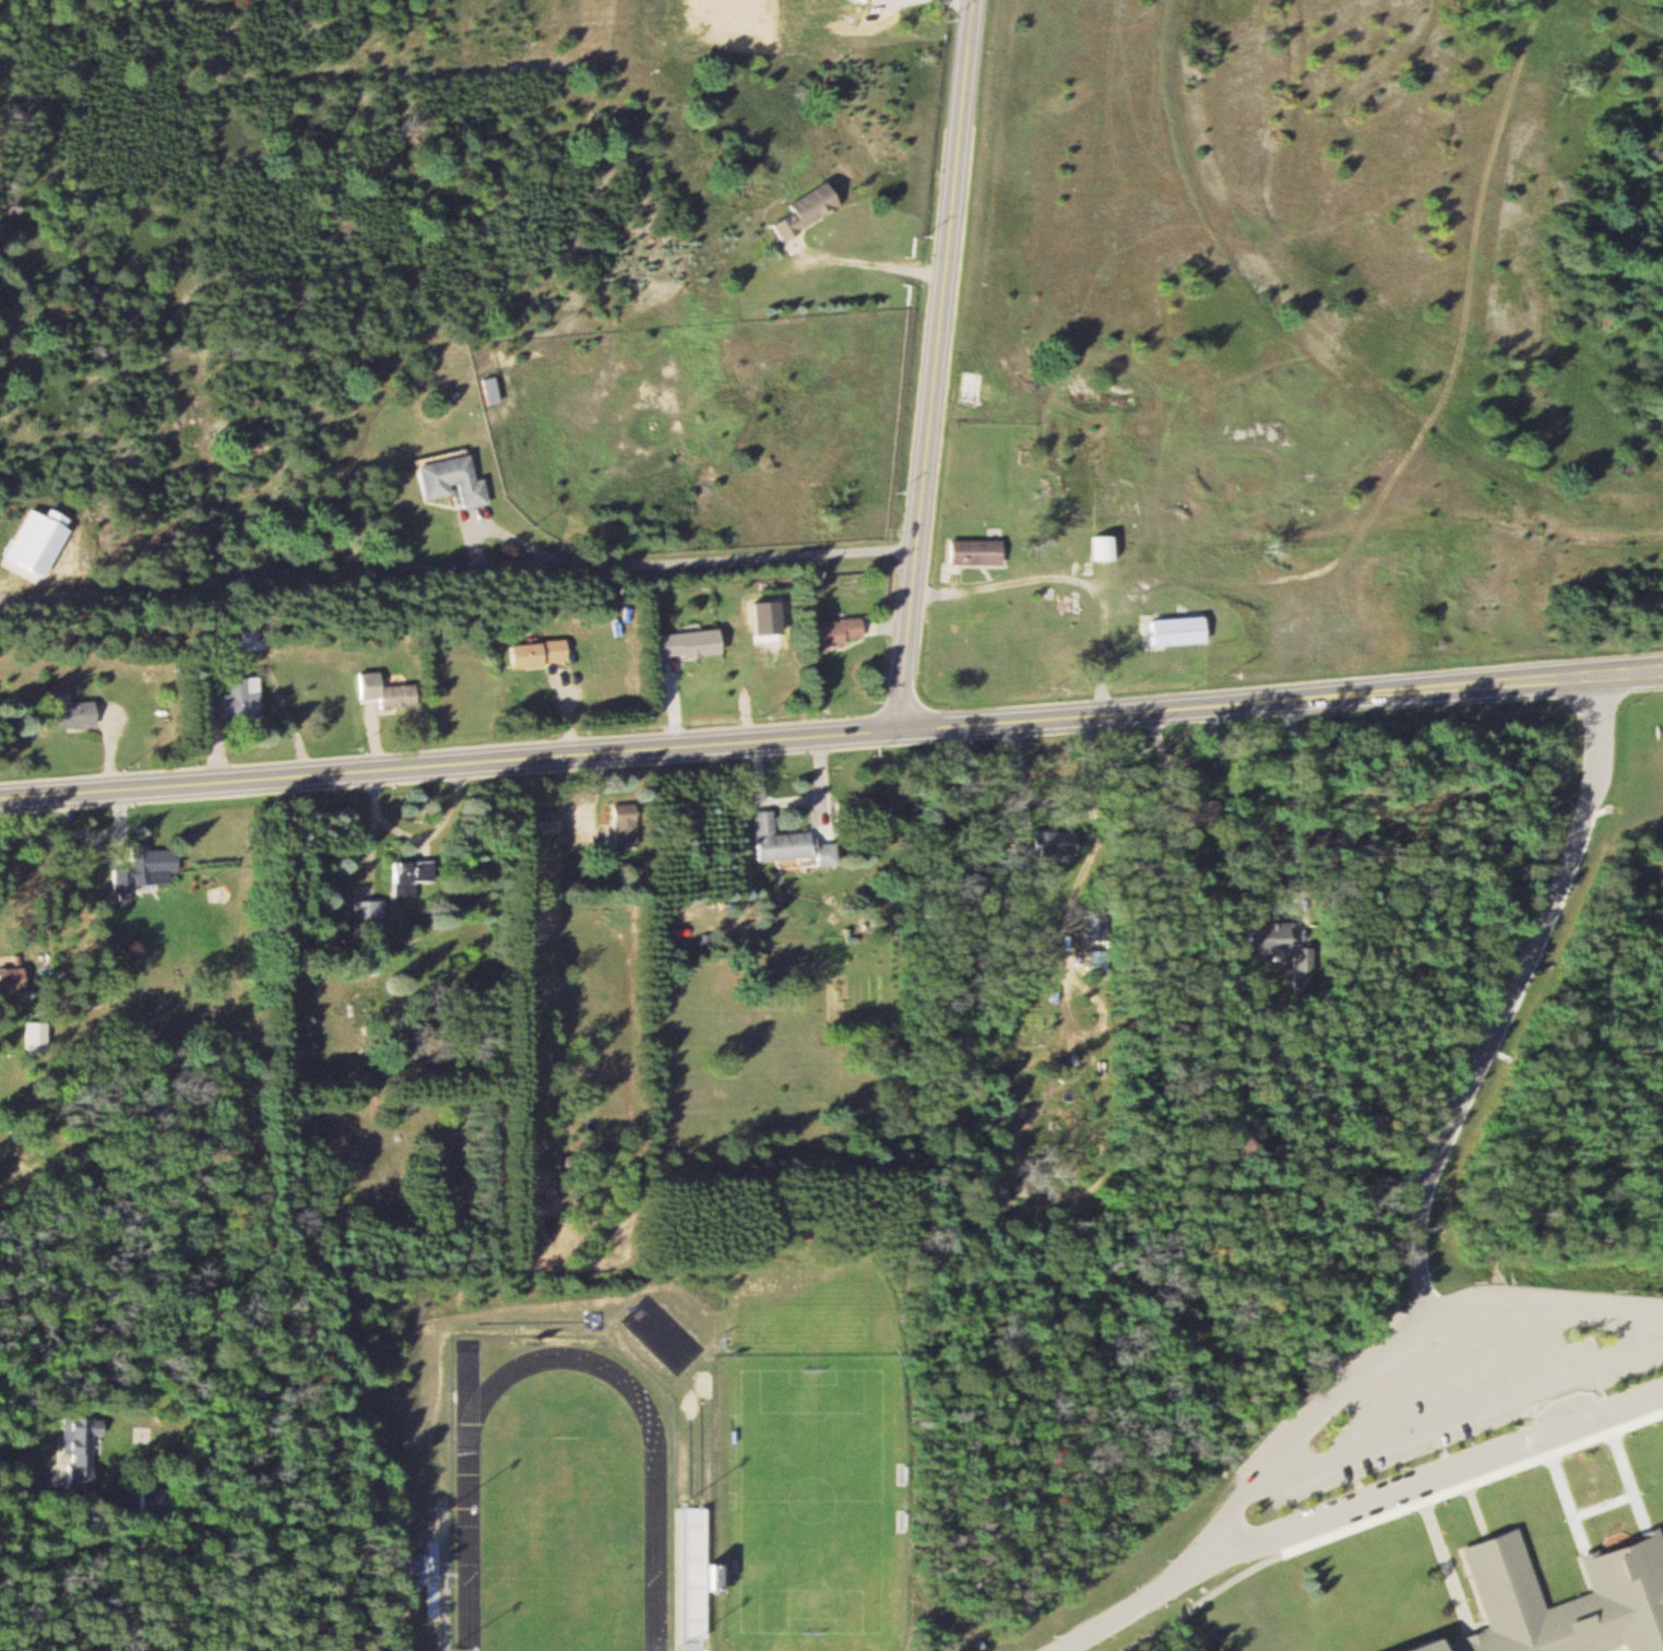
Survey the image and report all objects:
building: (793, 212)
road: (864, 261)
road: (934, 366)
building: (963, 389)
building: (458, 480)
building: (1096, 547)
building: (966, 550)
building: (1167, 630)
building: (825, 632)
building: (256, 637)
building: (679, 643)
building: (544, 652)
building: (389, 690)
building: (238, 701)
building: (72, 712)
road: (831, 736)
building: (1174, 813)
building: (545, 820)
building: (628, 824)
building: (771, 841)
building: (1032, 843)
building: (147, 870)
building: (414, 876)
building: (381, 912)
building: (1263, 939)
road: (1379, 1343)
building: (83, 1449)
road: (1347, 1500)
building: (157, 1505)
park: (559, 1544)
track: (467, 1551)
building: (700, 1576)
building: (433, 1578)
building: (1620, 1578)

